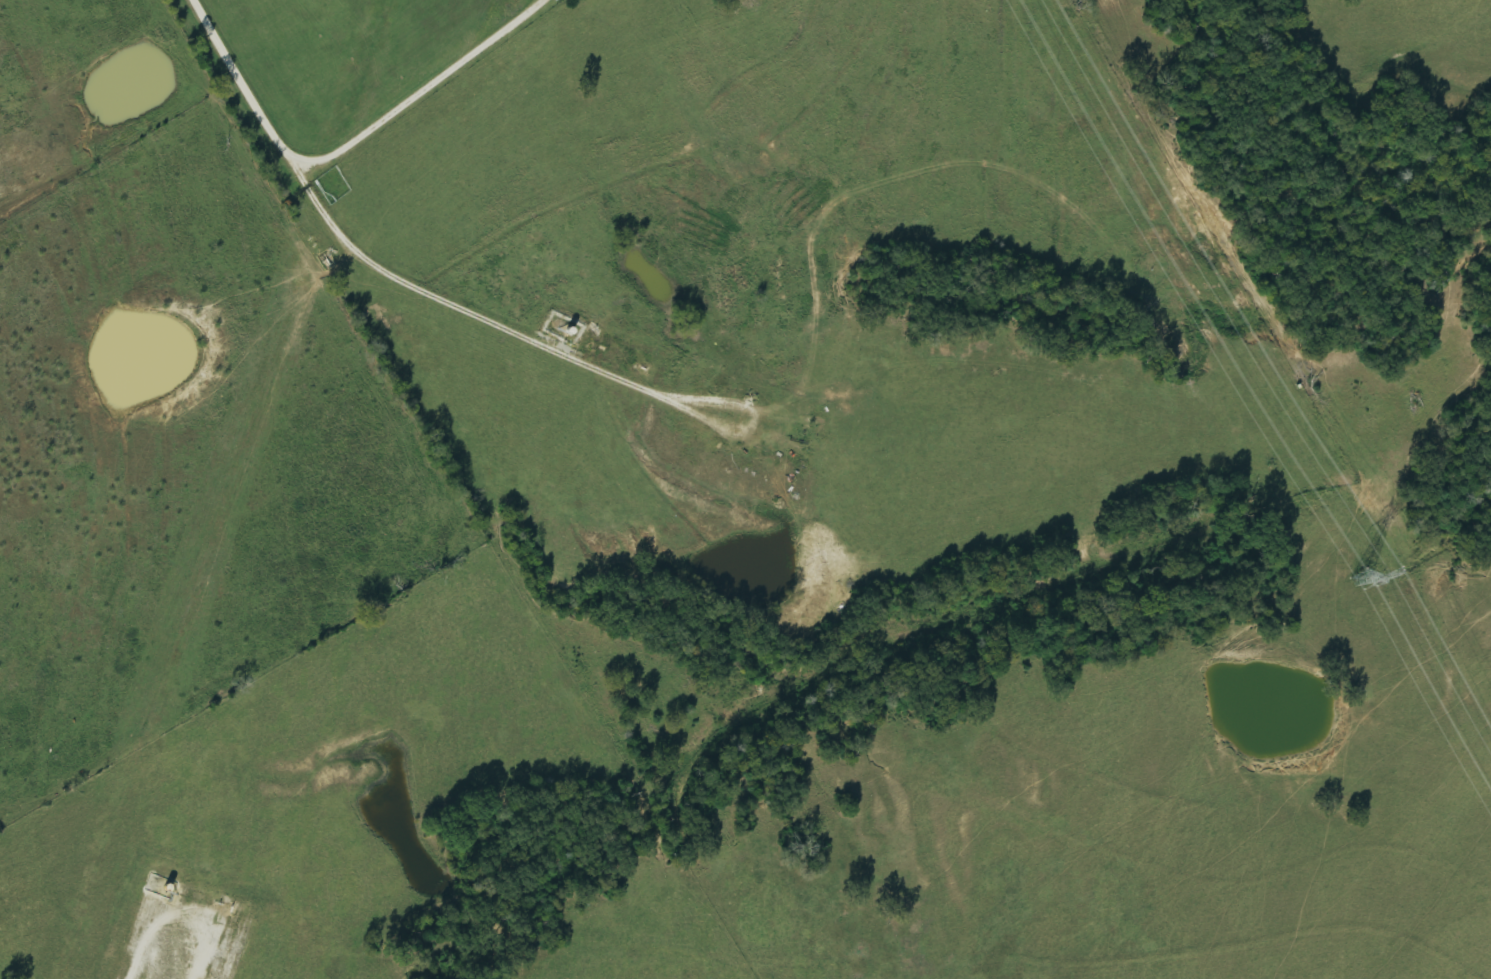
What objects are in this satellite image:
power tower: (1360, 570)

